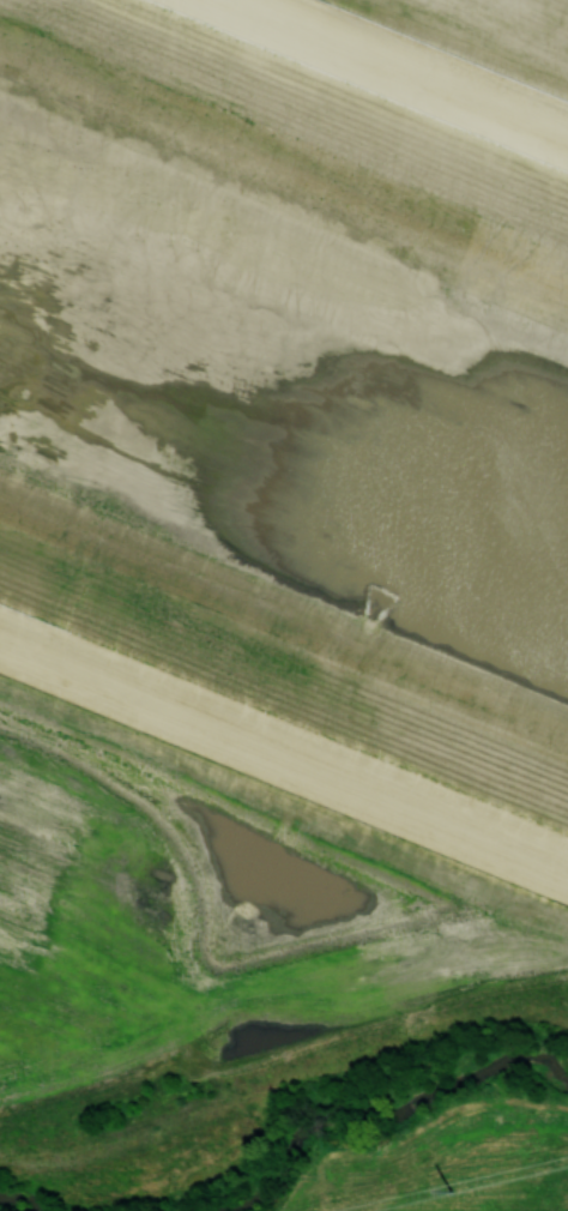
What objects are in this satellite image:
track: (296, 422)
power tower: (452, 1192)

